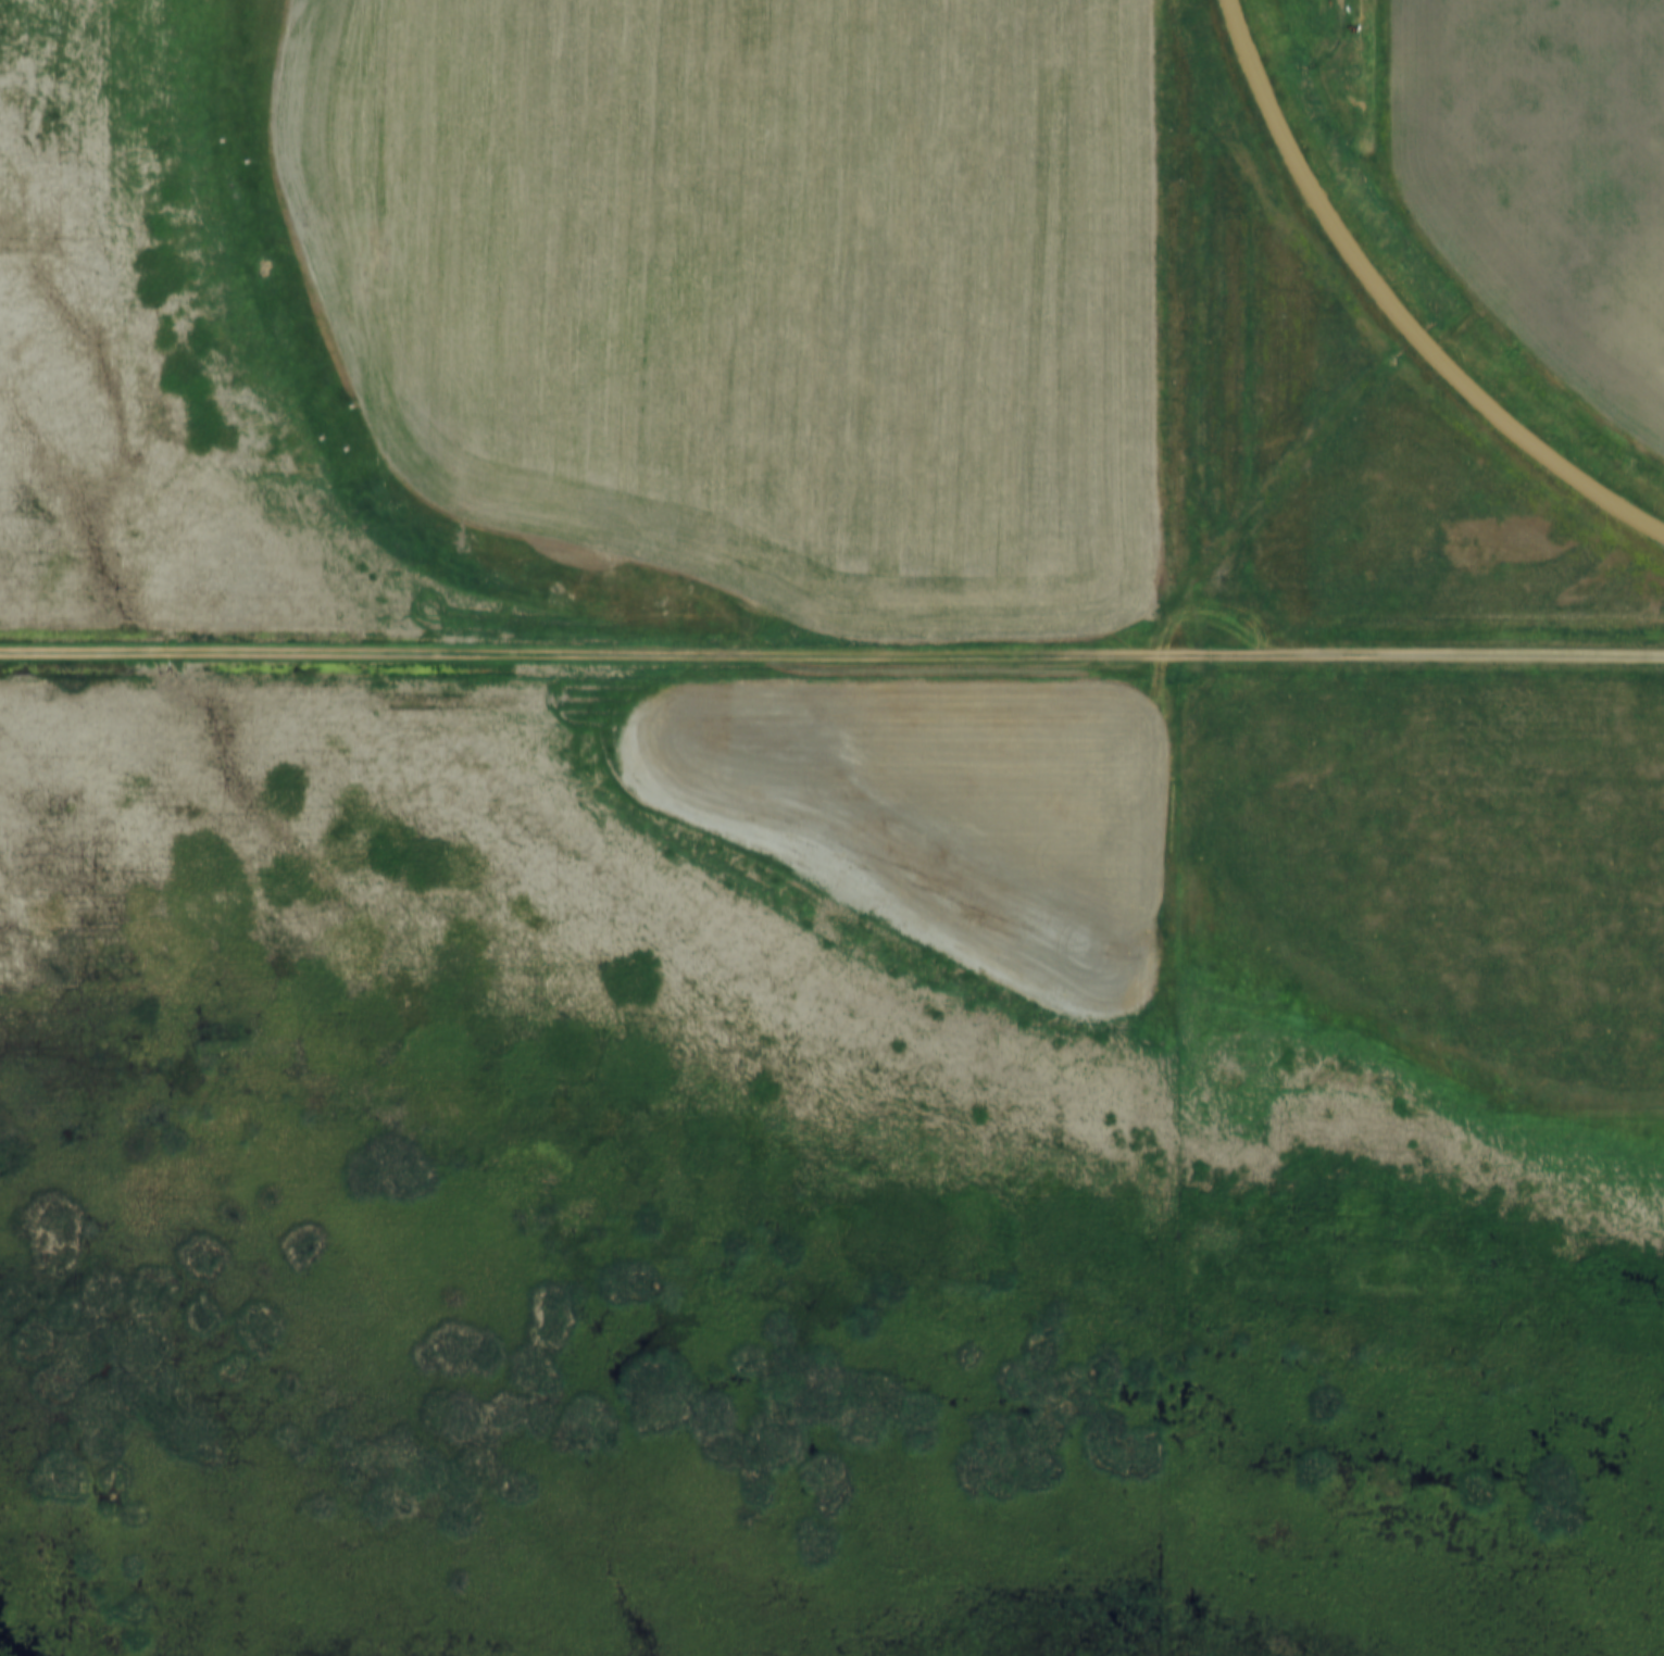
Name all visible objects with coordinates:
road: (1274, 98)
building: (152, 338)
road: (1473, 382)
building: (14, 389)
road: (831, 652)

